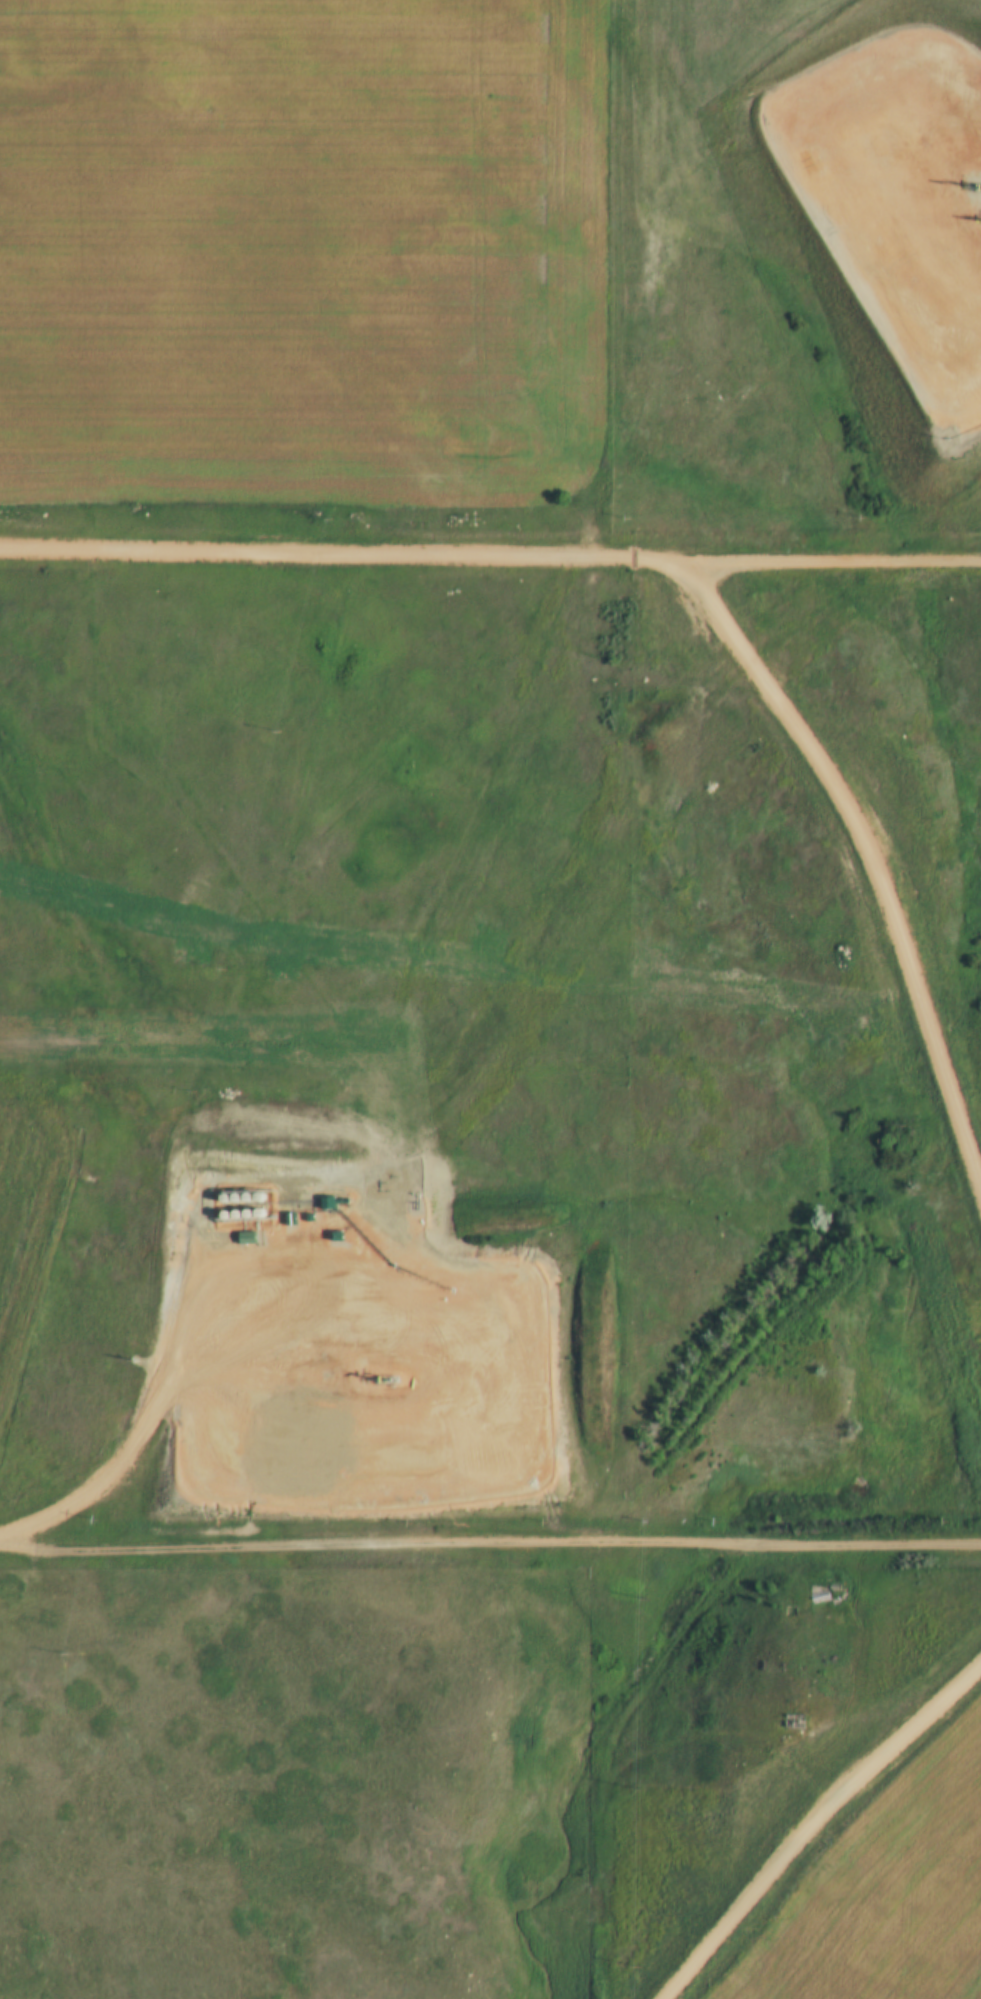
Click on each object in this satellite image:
road: (490, 559)
road: (854, 872)
building: (327, 1203)
road: (197, 1362)
road: (490, 1544)
building: (825, 1591)
building: (795, 1721)
road: (801, 1804)

